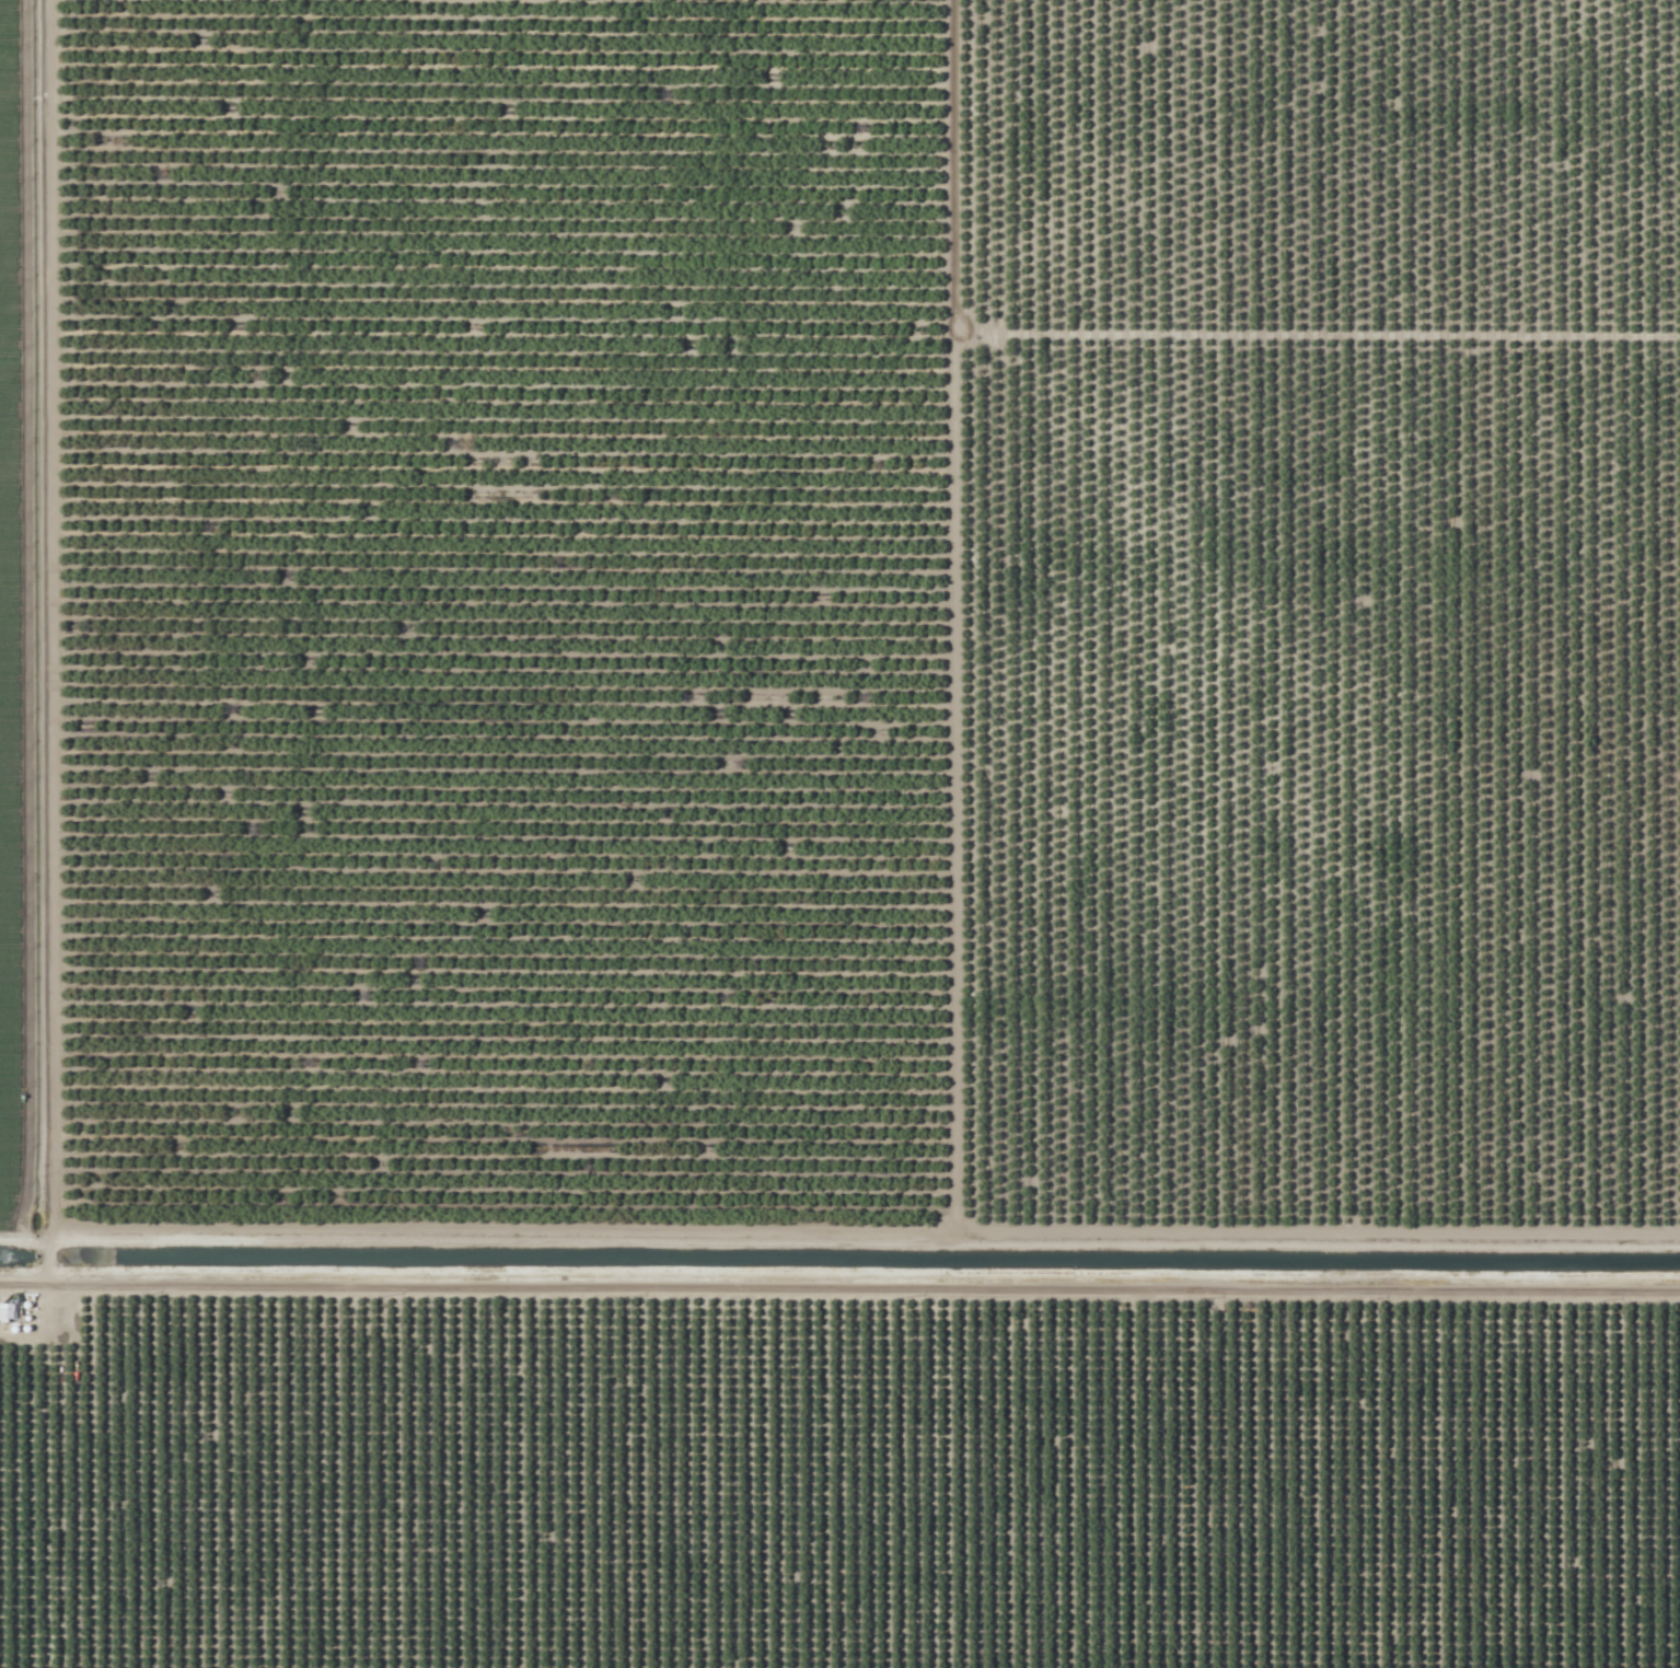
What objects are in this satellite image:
road: (874, 335)
crop: (19, 624)
road: (57, 833)
road: (952, 1072)
road: (23, 1239)
road: (23, 1274)
road: (862, 1296)

